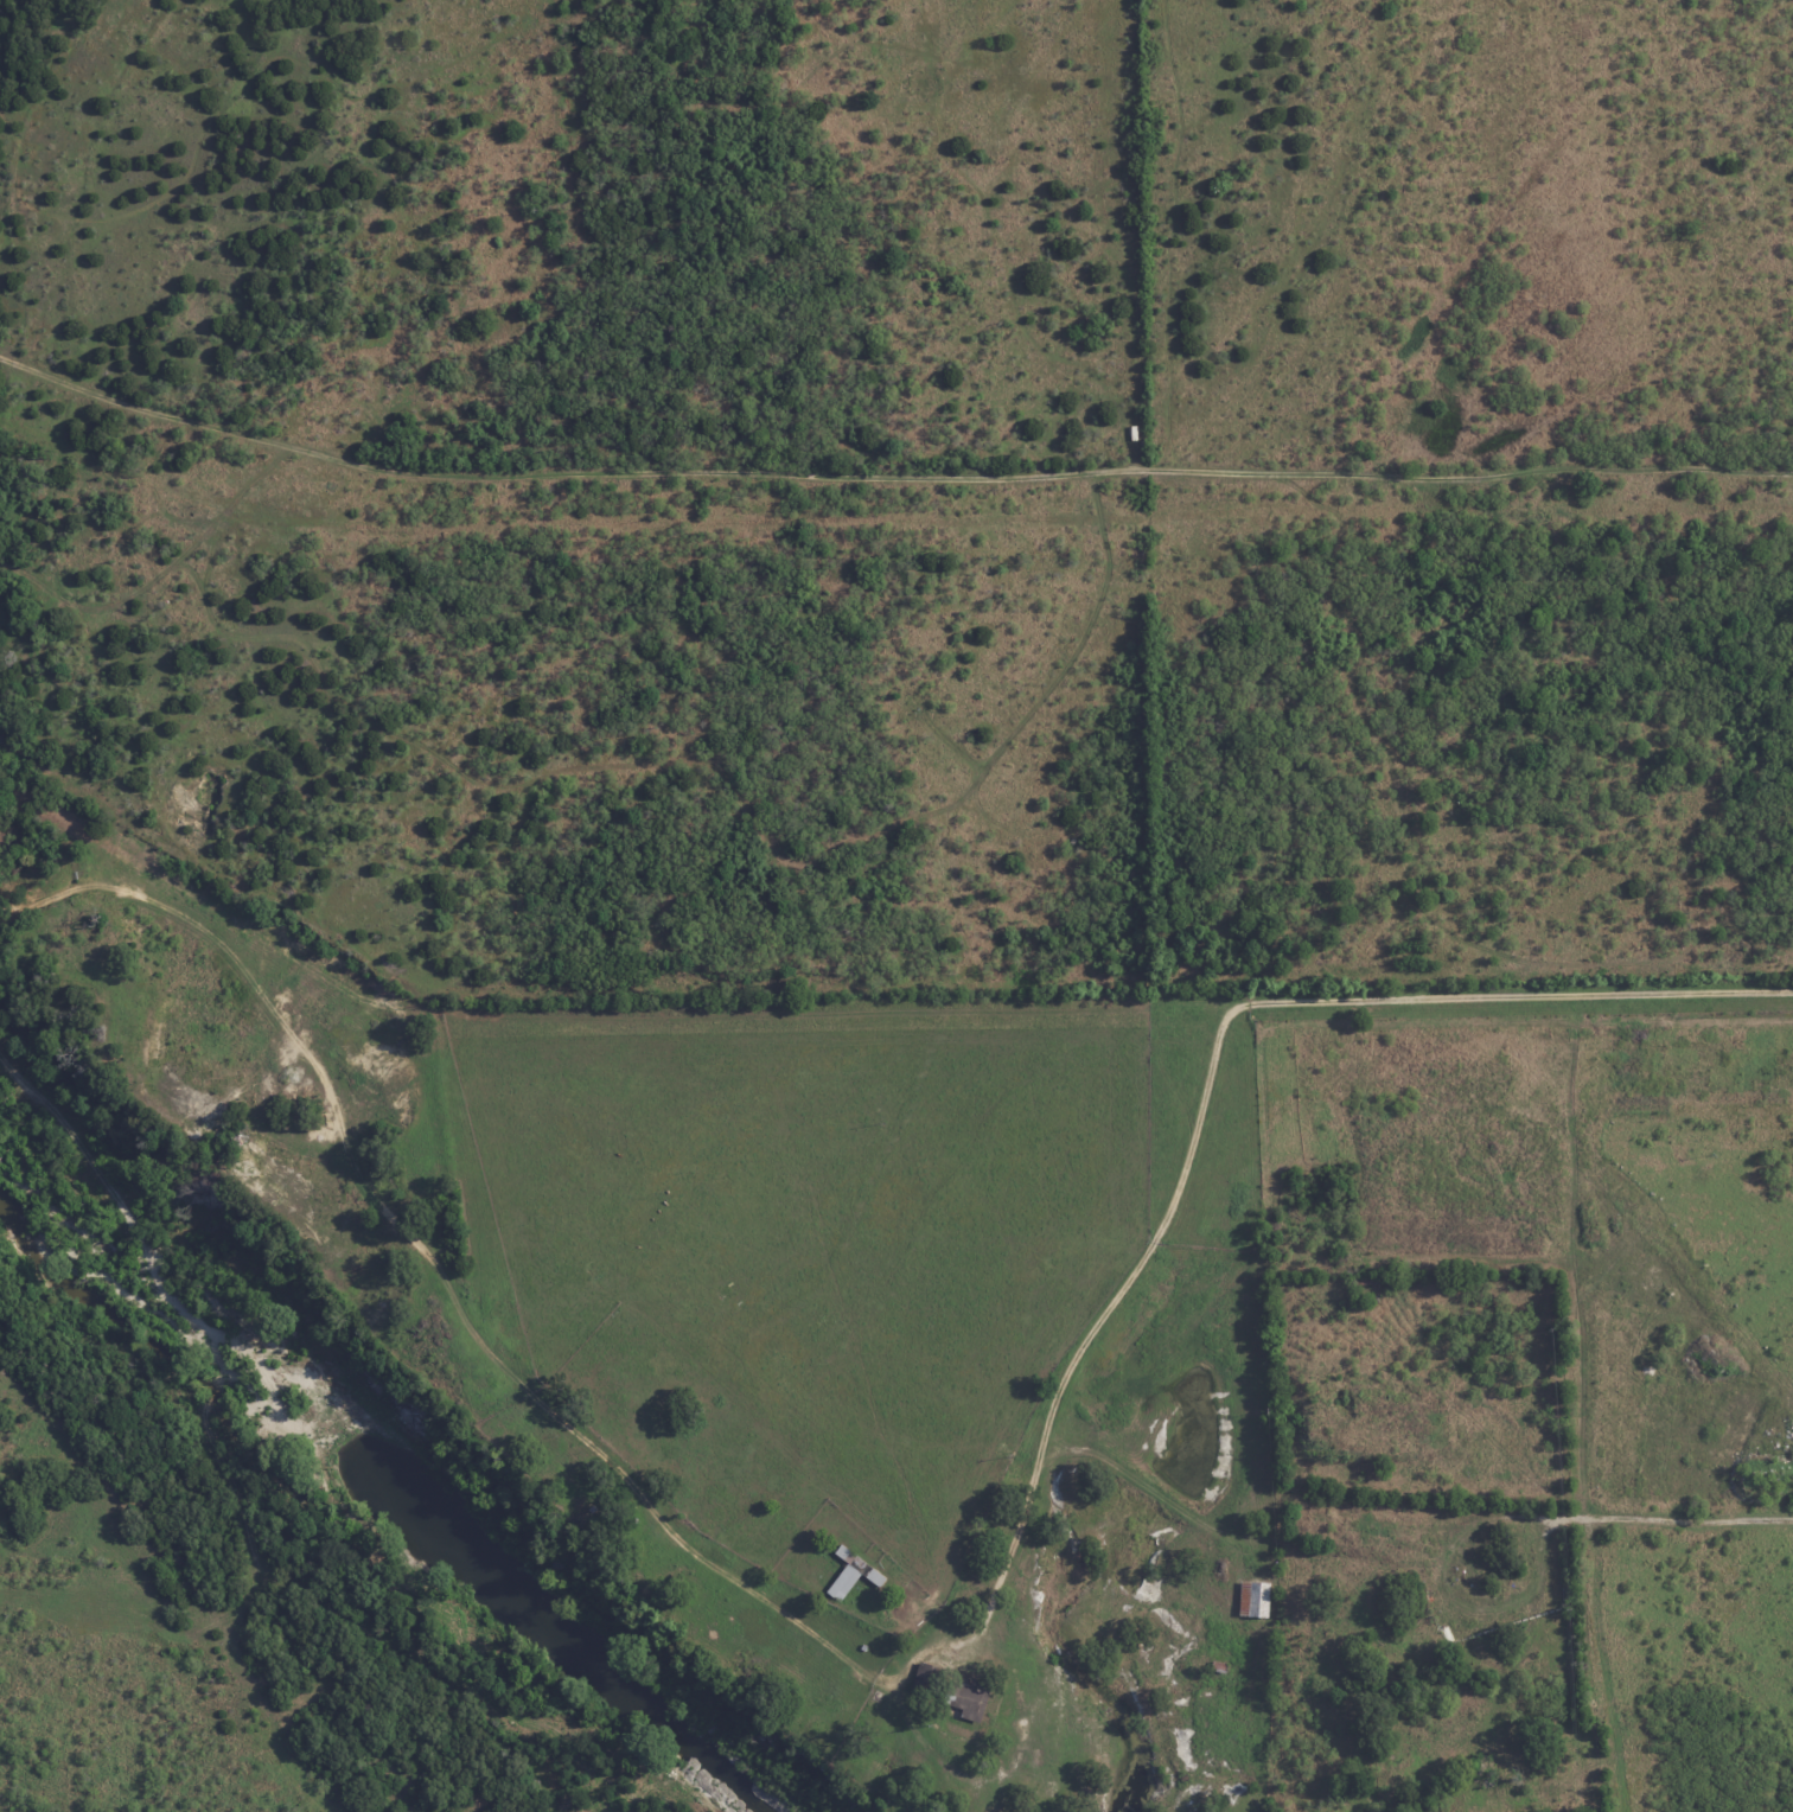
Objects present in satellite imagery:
road: (1513, 997)
road: (1076, 1351)
road: (1447, 1412)
road: (589, 1442)
building: (593, 1510)
road: (1665, 1517)
building: (1207, 1544)
building: (1242, 1571)
building: (851, 1572)
building: (1255, 1599)
building: (863, 1647)
building: (1220, 1667)
building: (951, 1690)
building: (876, 1696)
building: (1003, 1711)
building: (1519, 1741)

